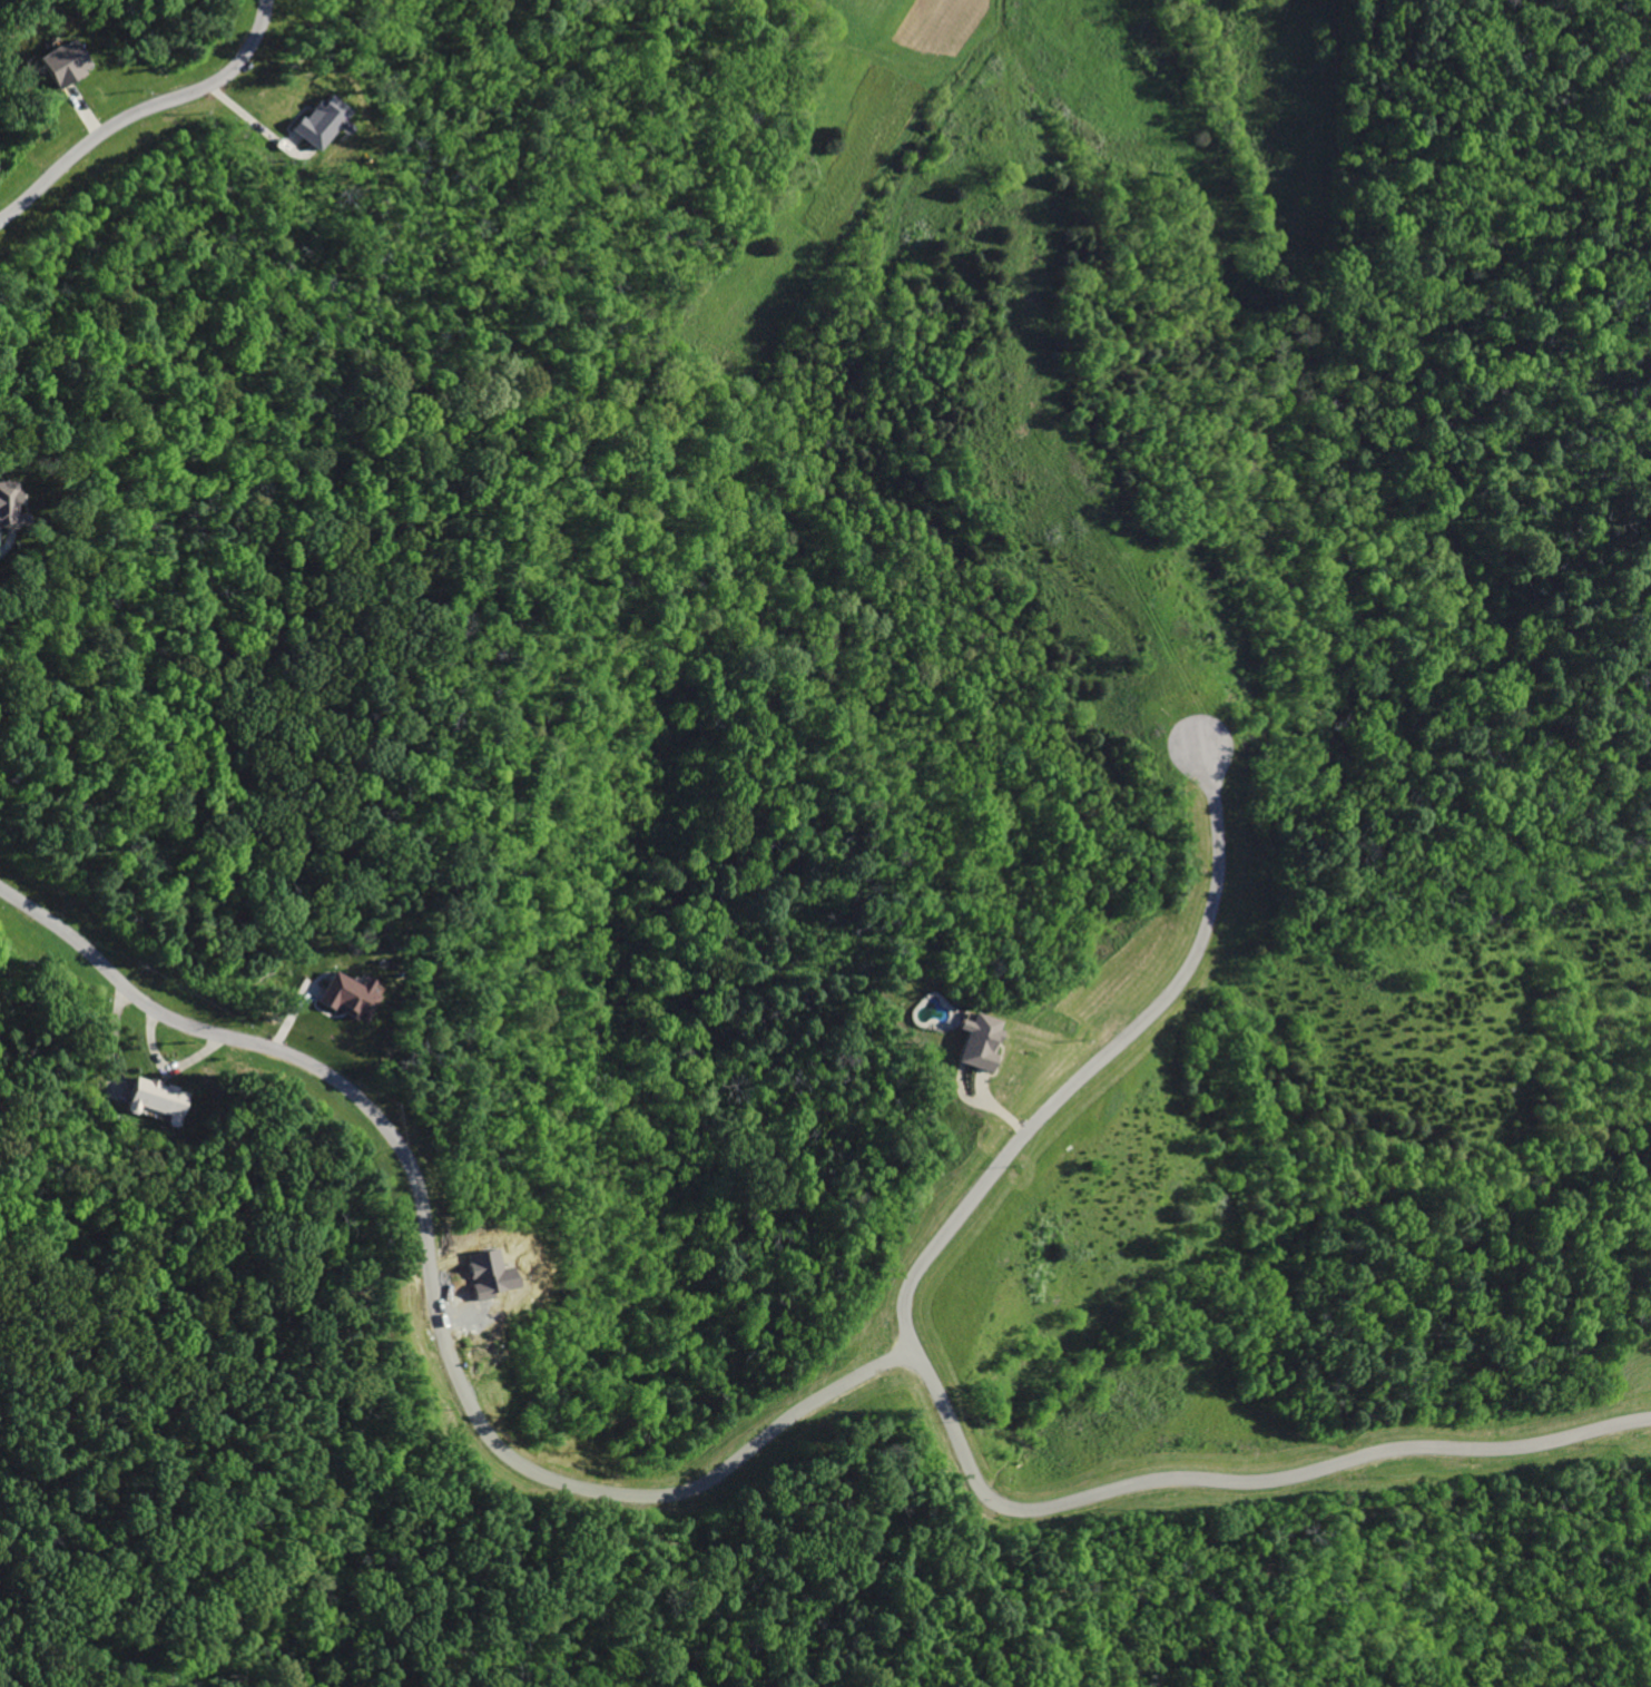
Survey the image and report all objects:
building: (56, 65)
road: (140, 108)
building: (313, 122)
building: (3, 502)
building: (341, 997)
building: (973, 1042)
building: (156, 1104)
road: (1234, 1479)
road: (675, 1494)

